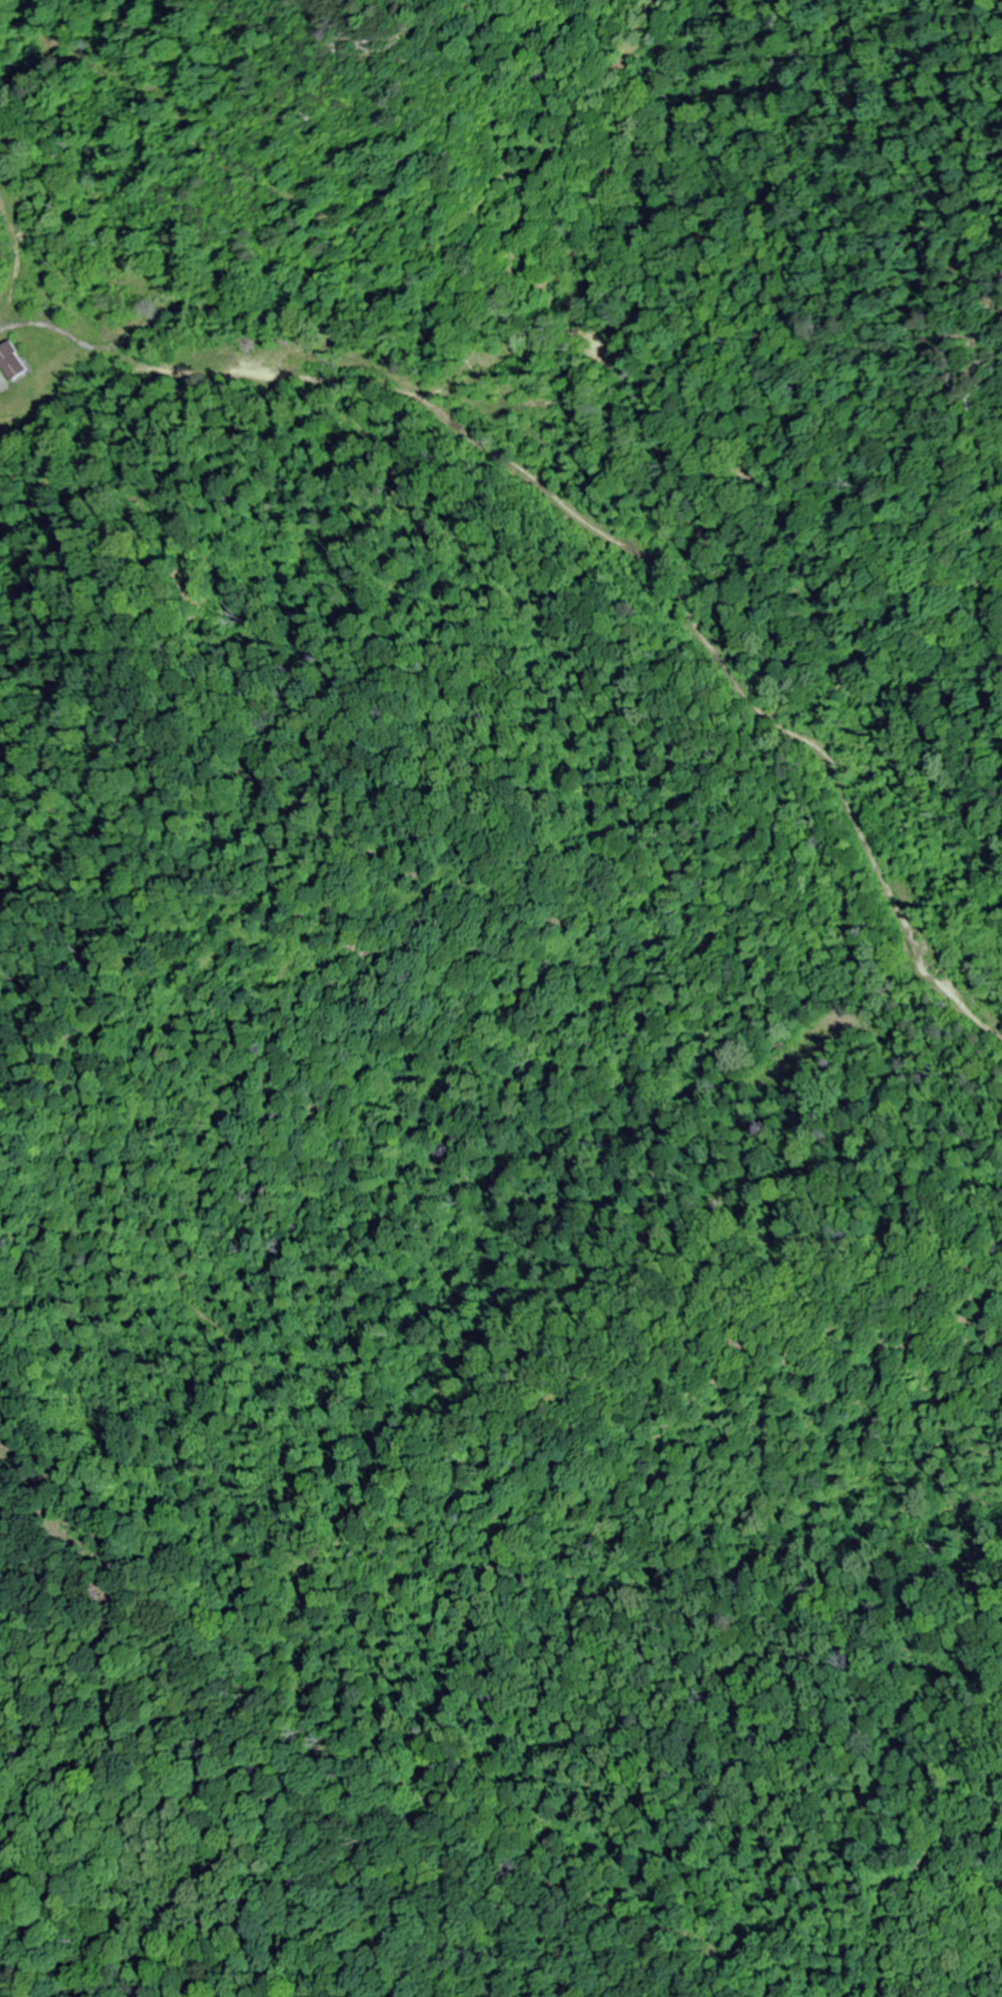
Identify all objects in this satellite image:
building: (14, 361)

